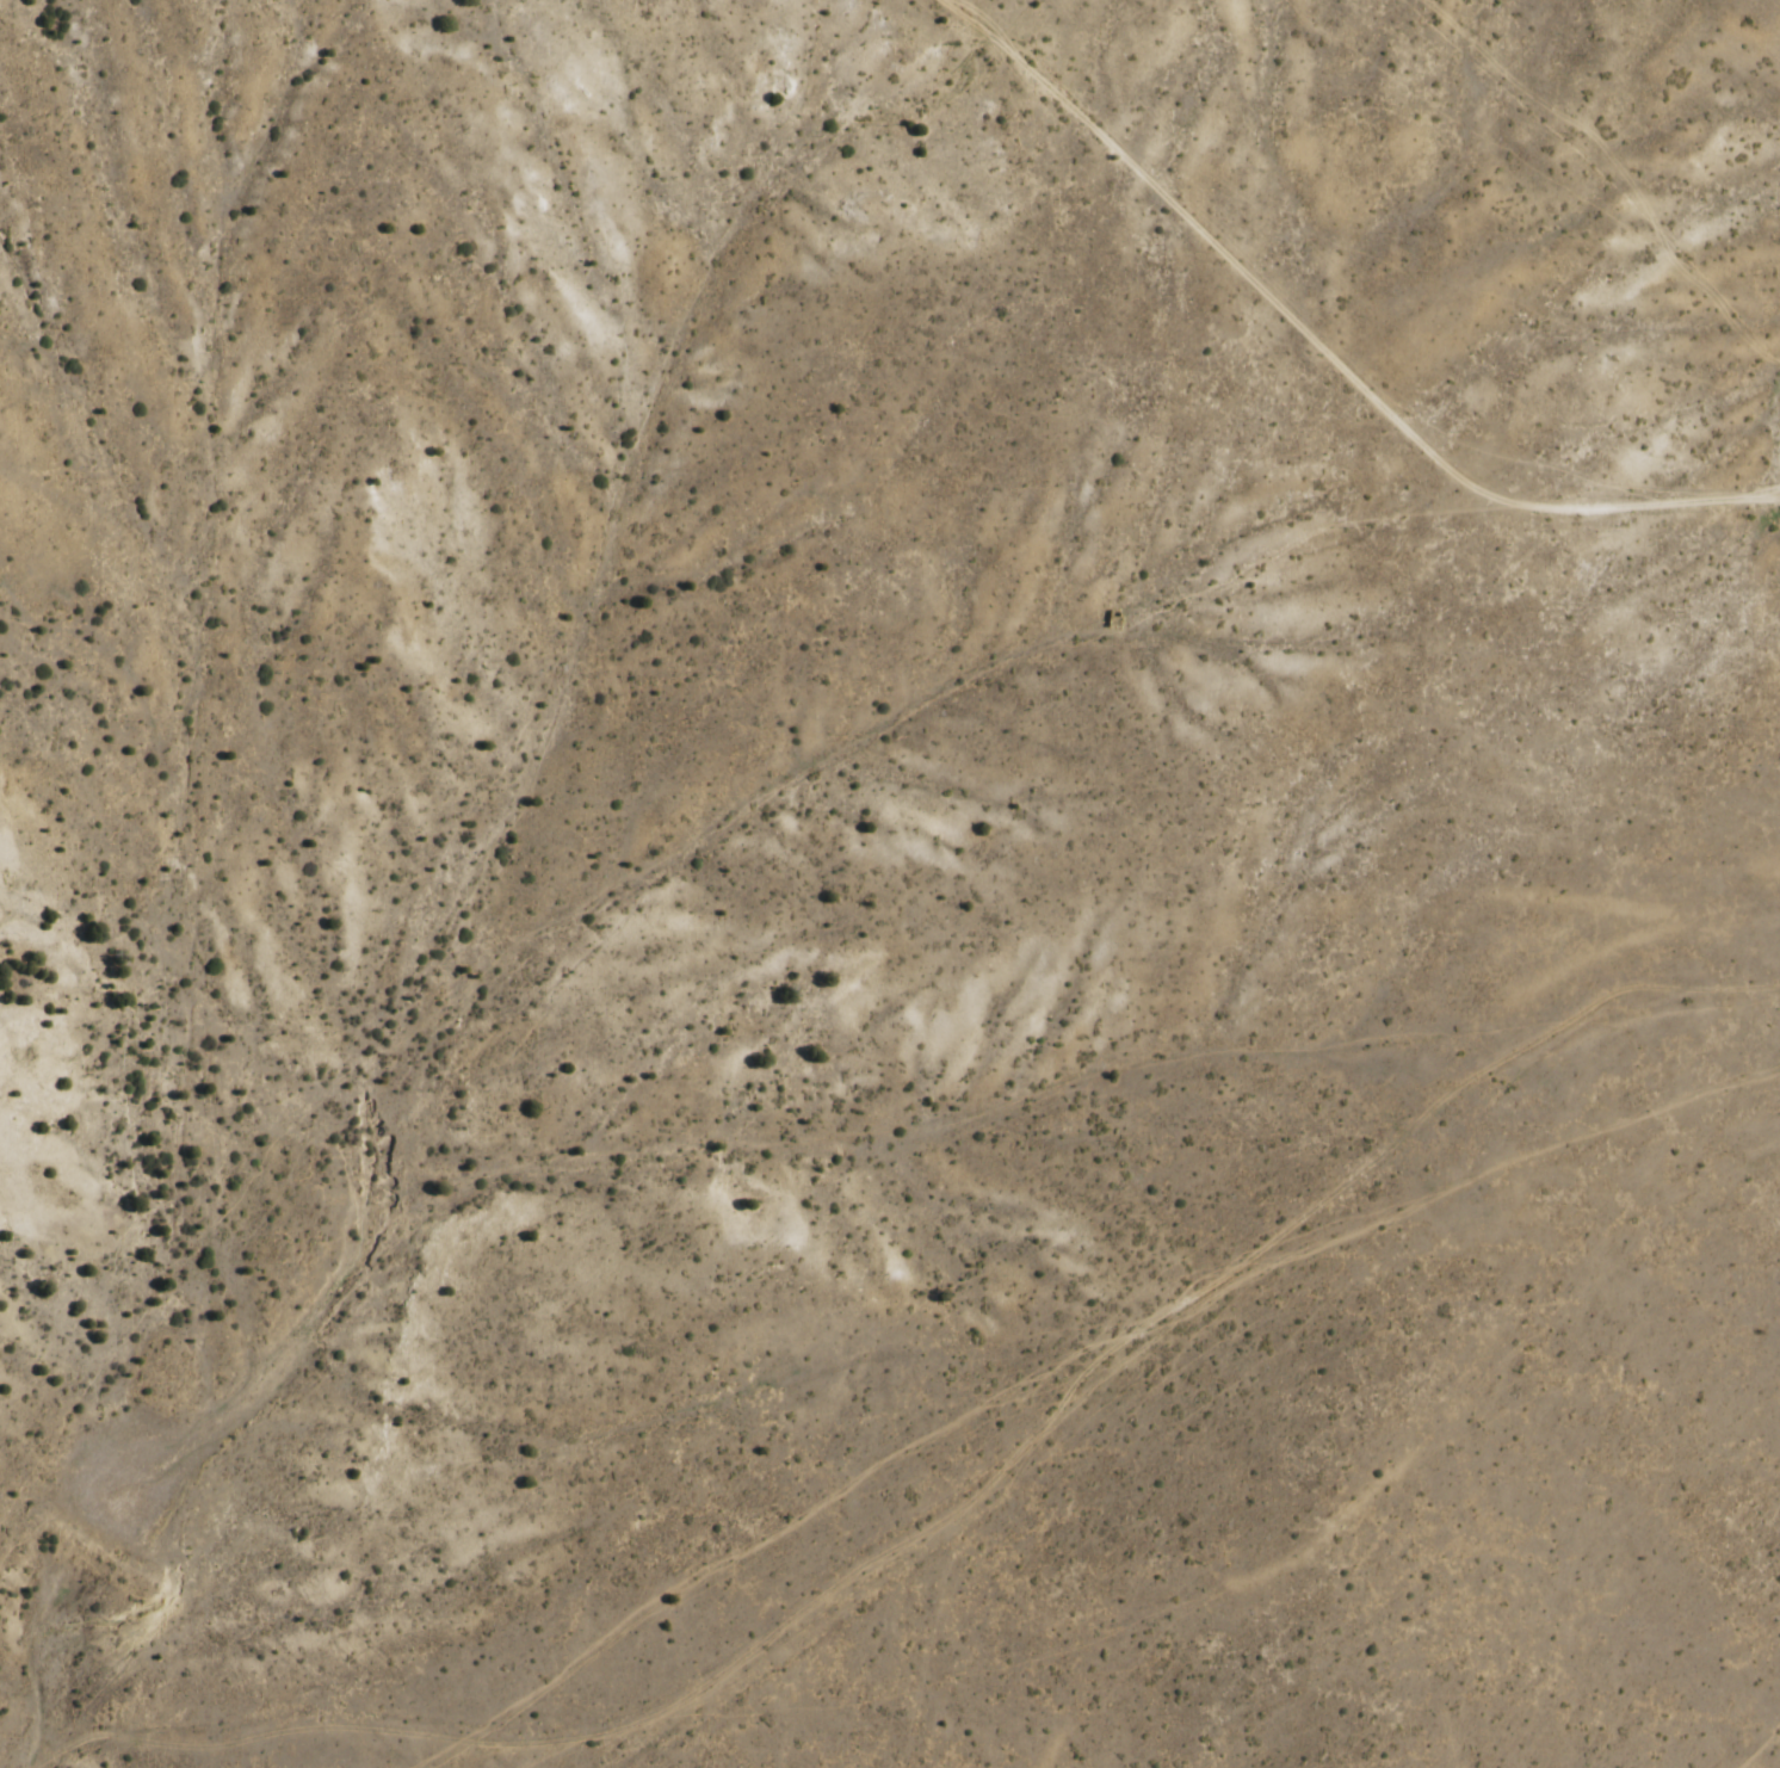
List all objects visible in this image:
road: (1321, 339)
road: (1051, 1440)

